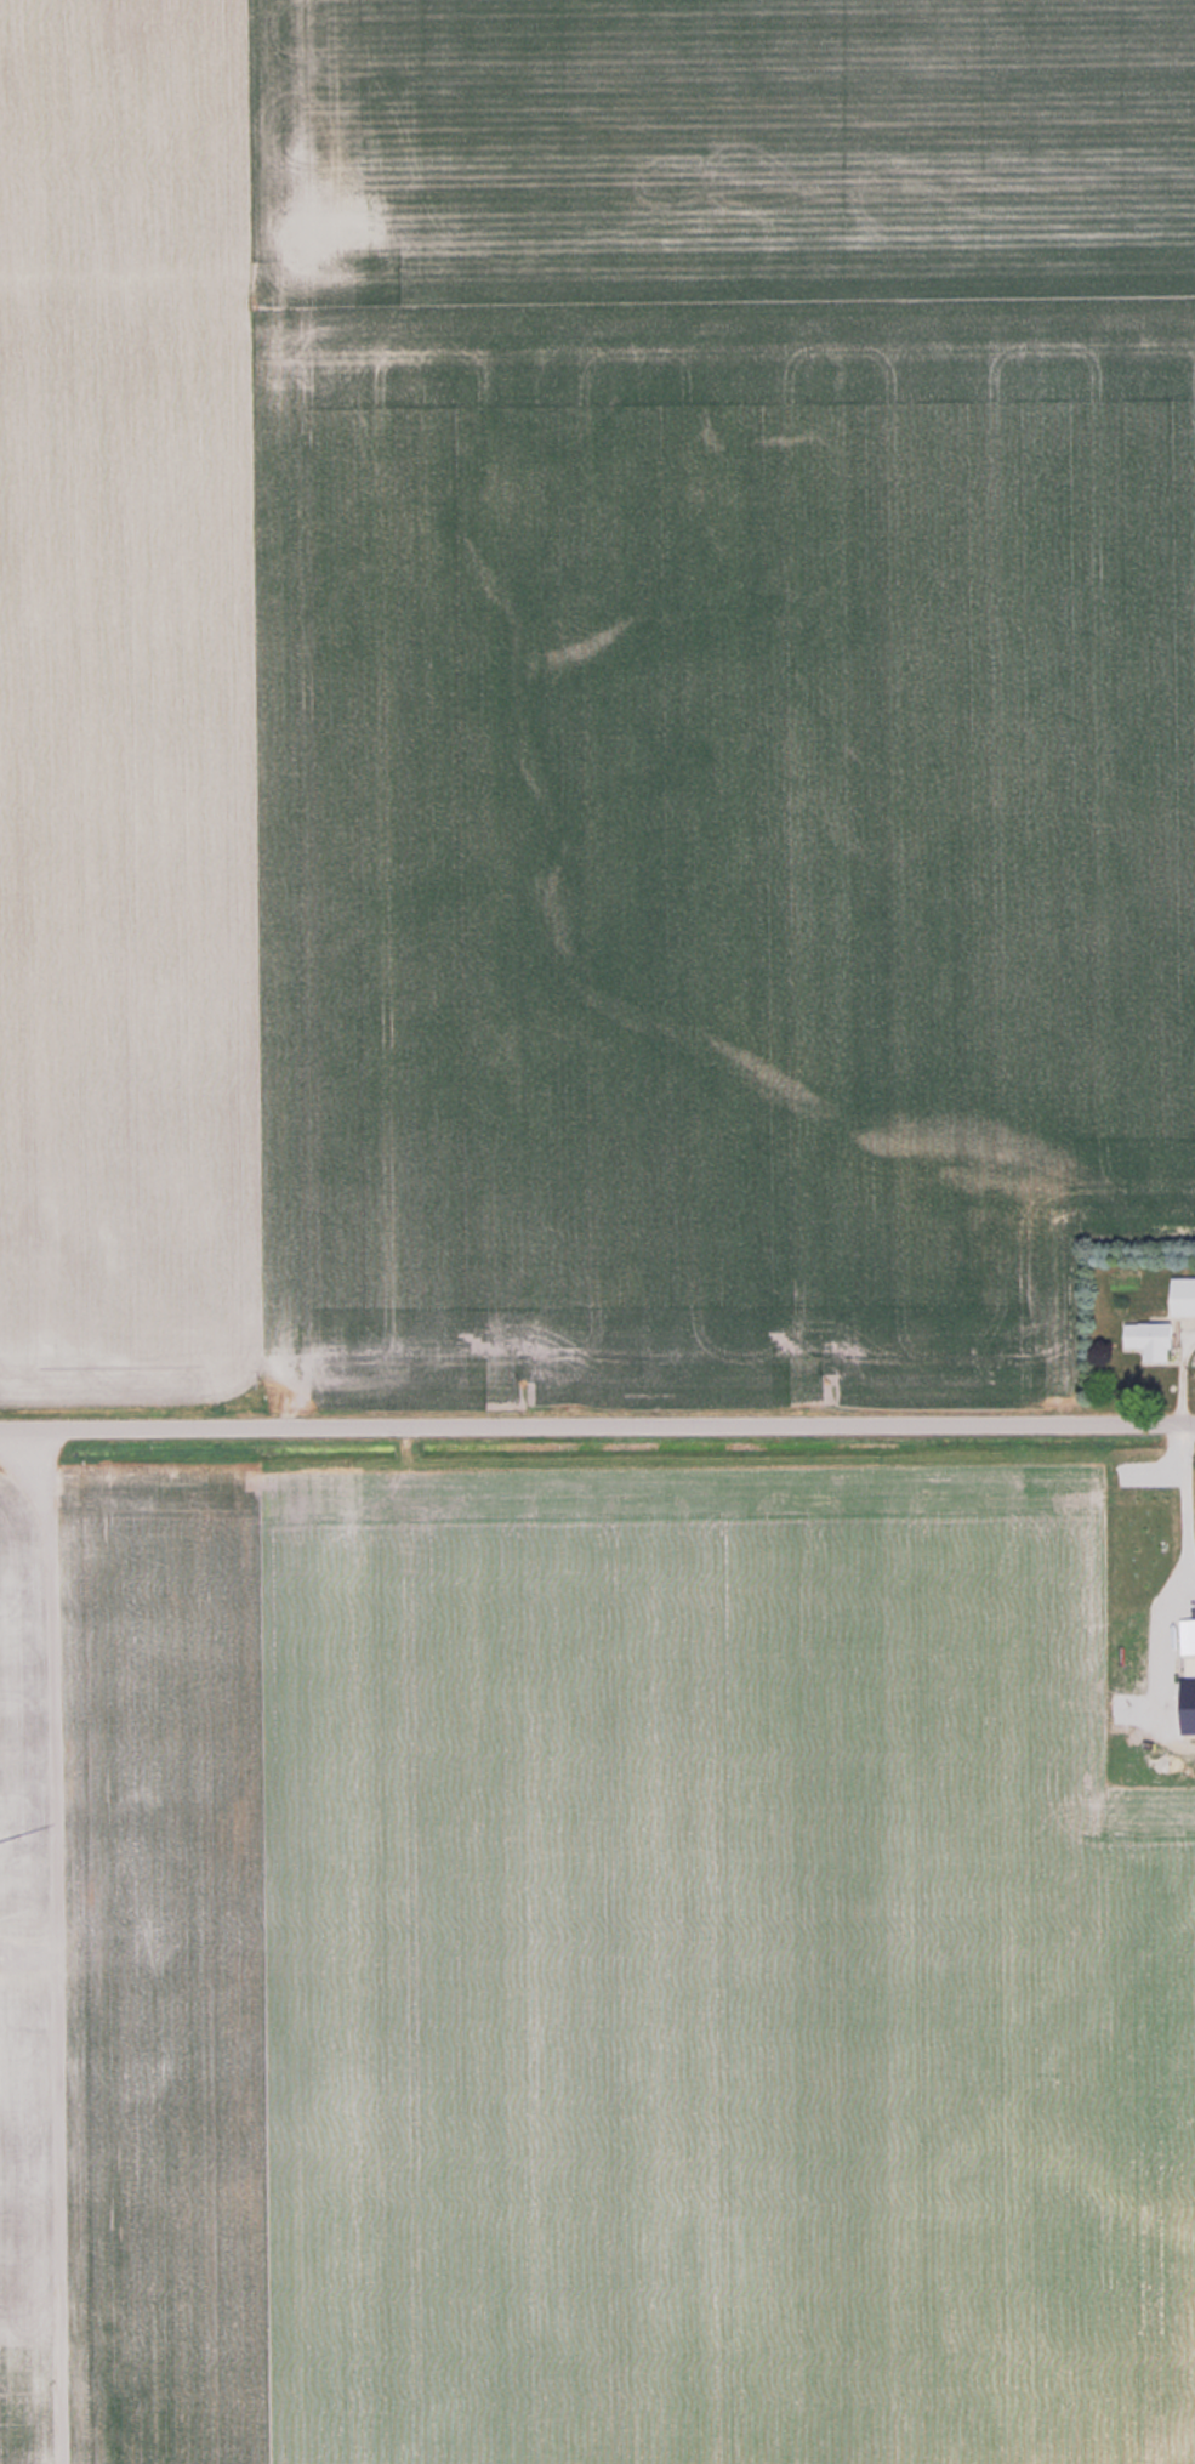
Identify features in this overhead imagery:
building: (1183, 1294)
building: (1149, 1338)
road: (597, 1424)
building: (1187, 1635)
road: (58, 1944)

